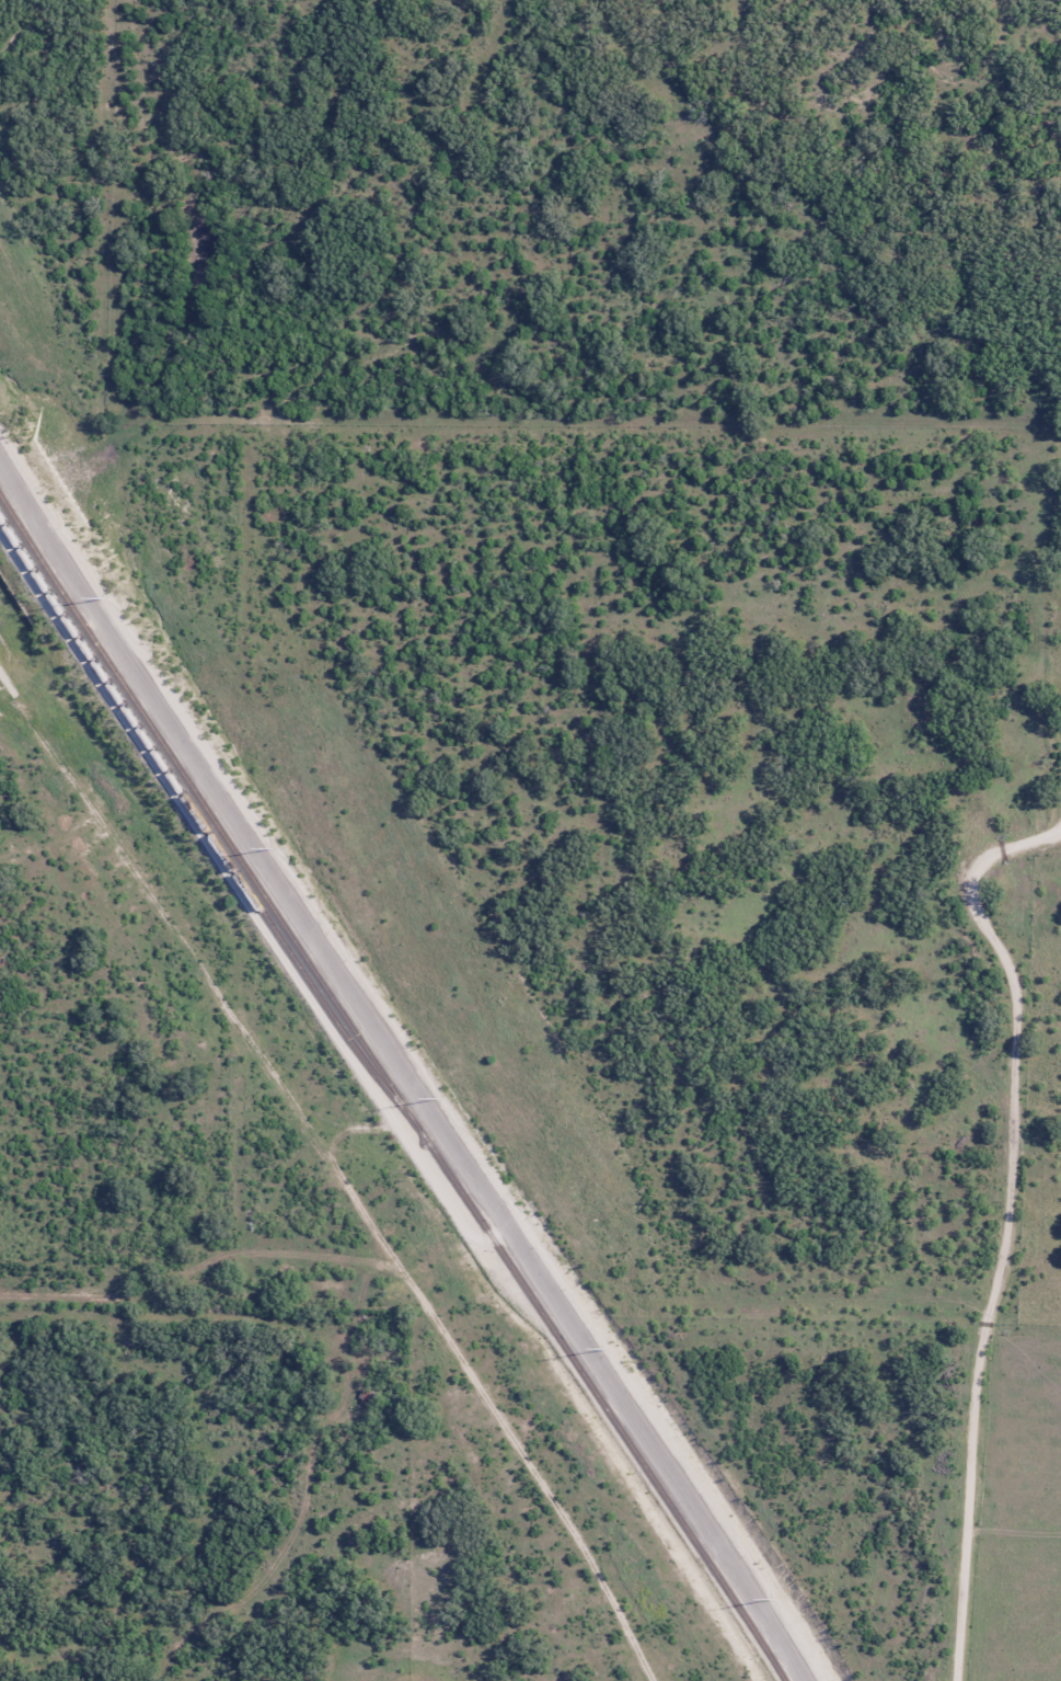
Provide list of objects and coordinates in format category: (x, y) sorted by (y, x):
power tower: (108, 598)
railway: (201, 813)
power tower: (275, 849)
road: (401, 1062)
railway: (394, 1083)
power tower: (441, 1100)
road: (1006, 1225)
power tower: (608, 1348)
power tower: (773, 1598)

